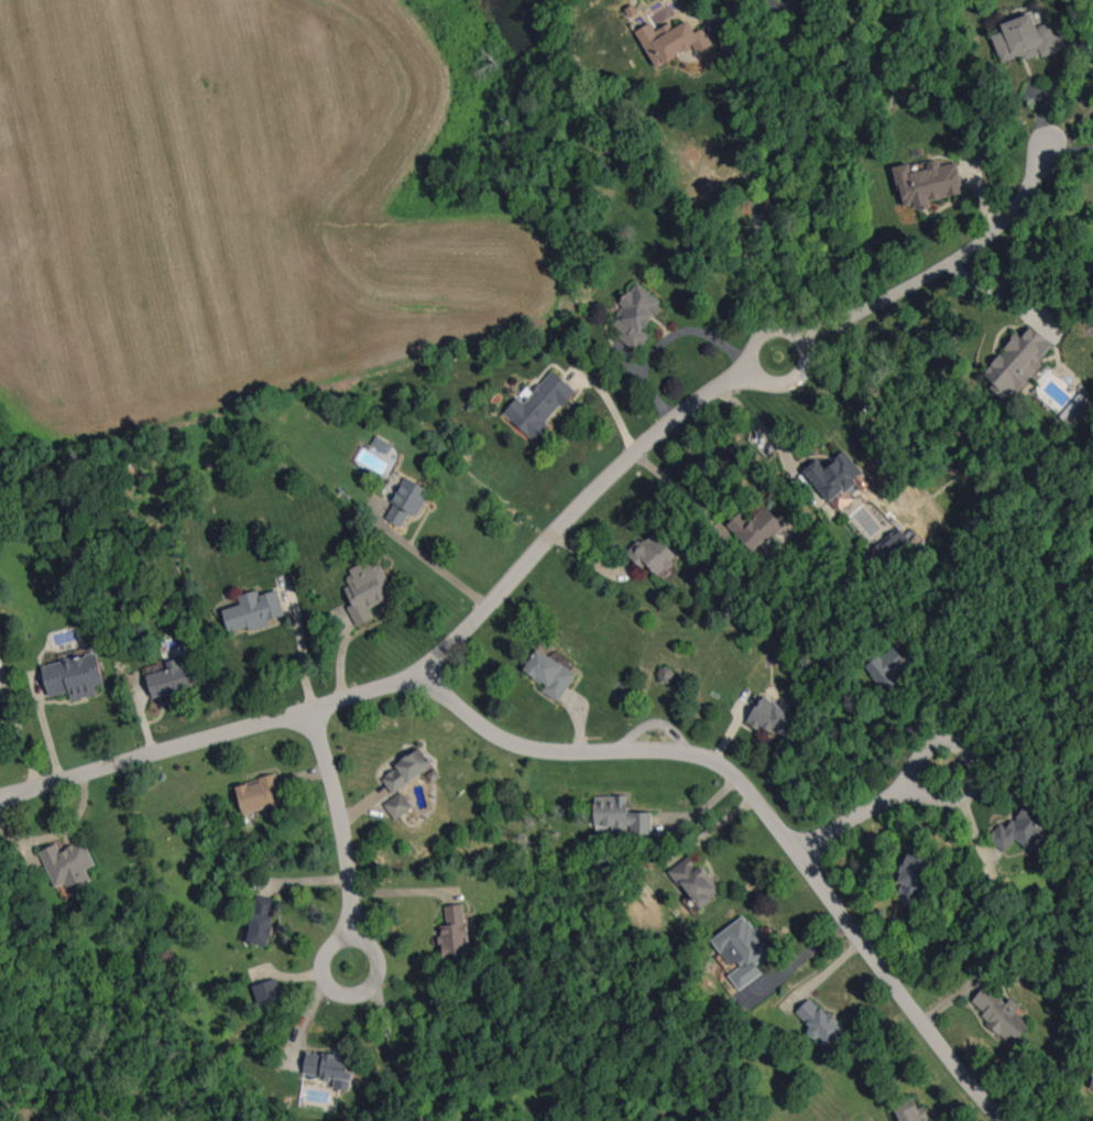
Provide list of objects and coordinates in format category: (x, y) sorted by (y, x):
building: (1026, 39)
building: (671, 41)
road: (767, 123)
road: (736, 128)
road: (1072, 134)
building: (928, 183)
road: (944, 264)
road: (752, 279)
building: (635, 316)
building: (1017, 361)
road: (795, 383)
building: (539, 404)
building: (1076, 410)
building: (838, 479)
building: (407, 501)
building: (758, 529)
building: (892, 542)
road: (418, 549)
building: (653, 554)
building: (367, 588)
building: (252, 610)
road: (303, 651)
road: (437, 662)
road: (342, 665)
building: (887, 667)
building: (549, 674)
building: (73, 676)
building: (170, 678)
road: (1025, 712)
building: (773, 717)
building: (406, 770)
road: (976, 776)
building: (258, 793)
road: (14, 794)
road: (14, 801)
building: (397, 805)
road: (765, 812)
building: (621, 815)
road: (855, 817)
road: (342, 821)
building: (1021, 827)
building: (67, 863)
building: (911, 878)
building: (695, 880)
building: (261, 919)
building: (456, 934)
building: (742, 950)
road: (798, 959)
road: (335, 988)
building: (269, 991)
building: (1001, 1013)
building: (819, 1021)
road: (395, 1056)
building: (330, 1067)
building: (1092, 1085)
building: (911, 1111)

